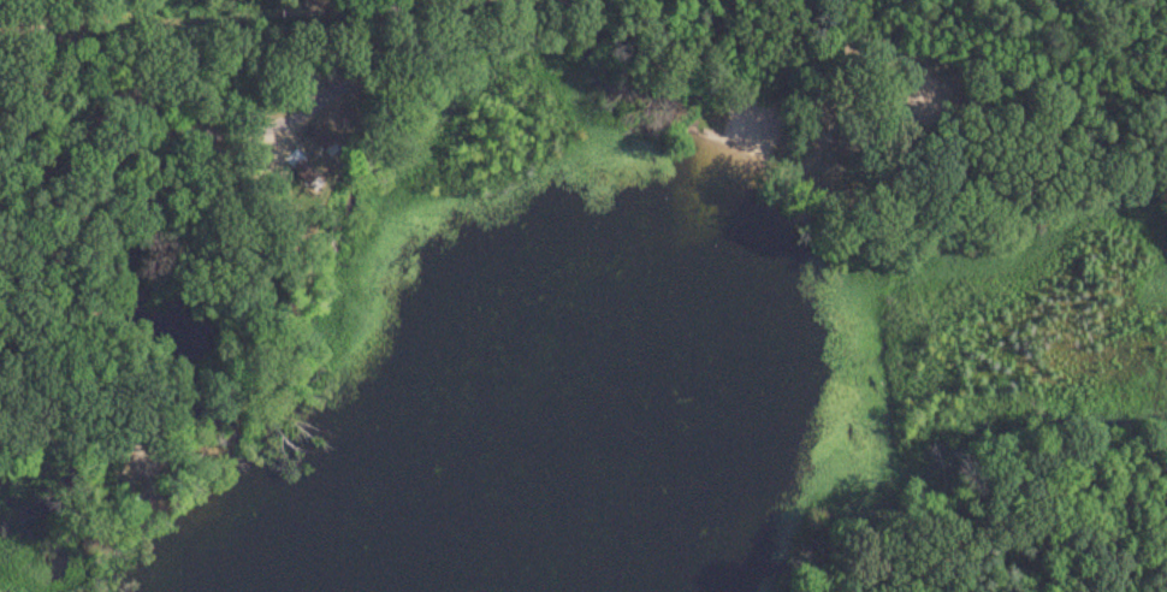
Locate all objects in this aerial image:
park: (168, 303)
park: (1025, 526)

